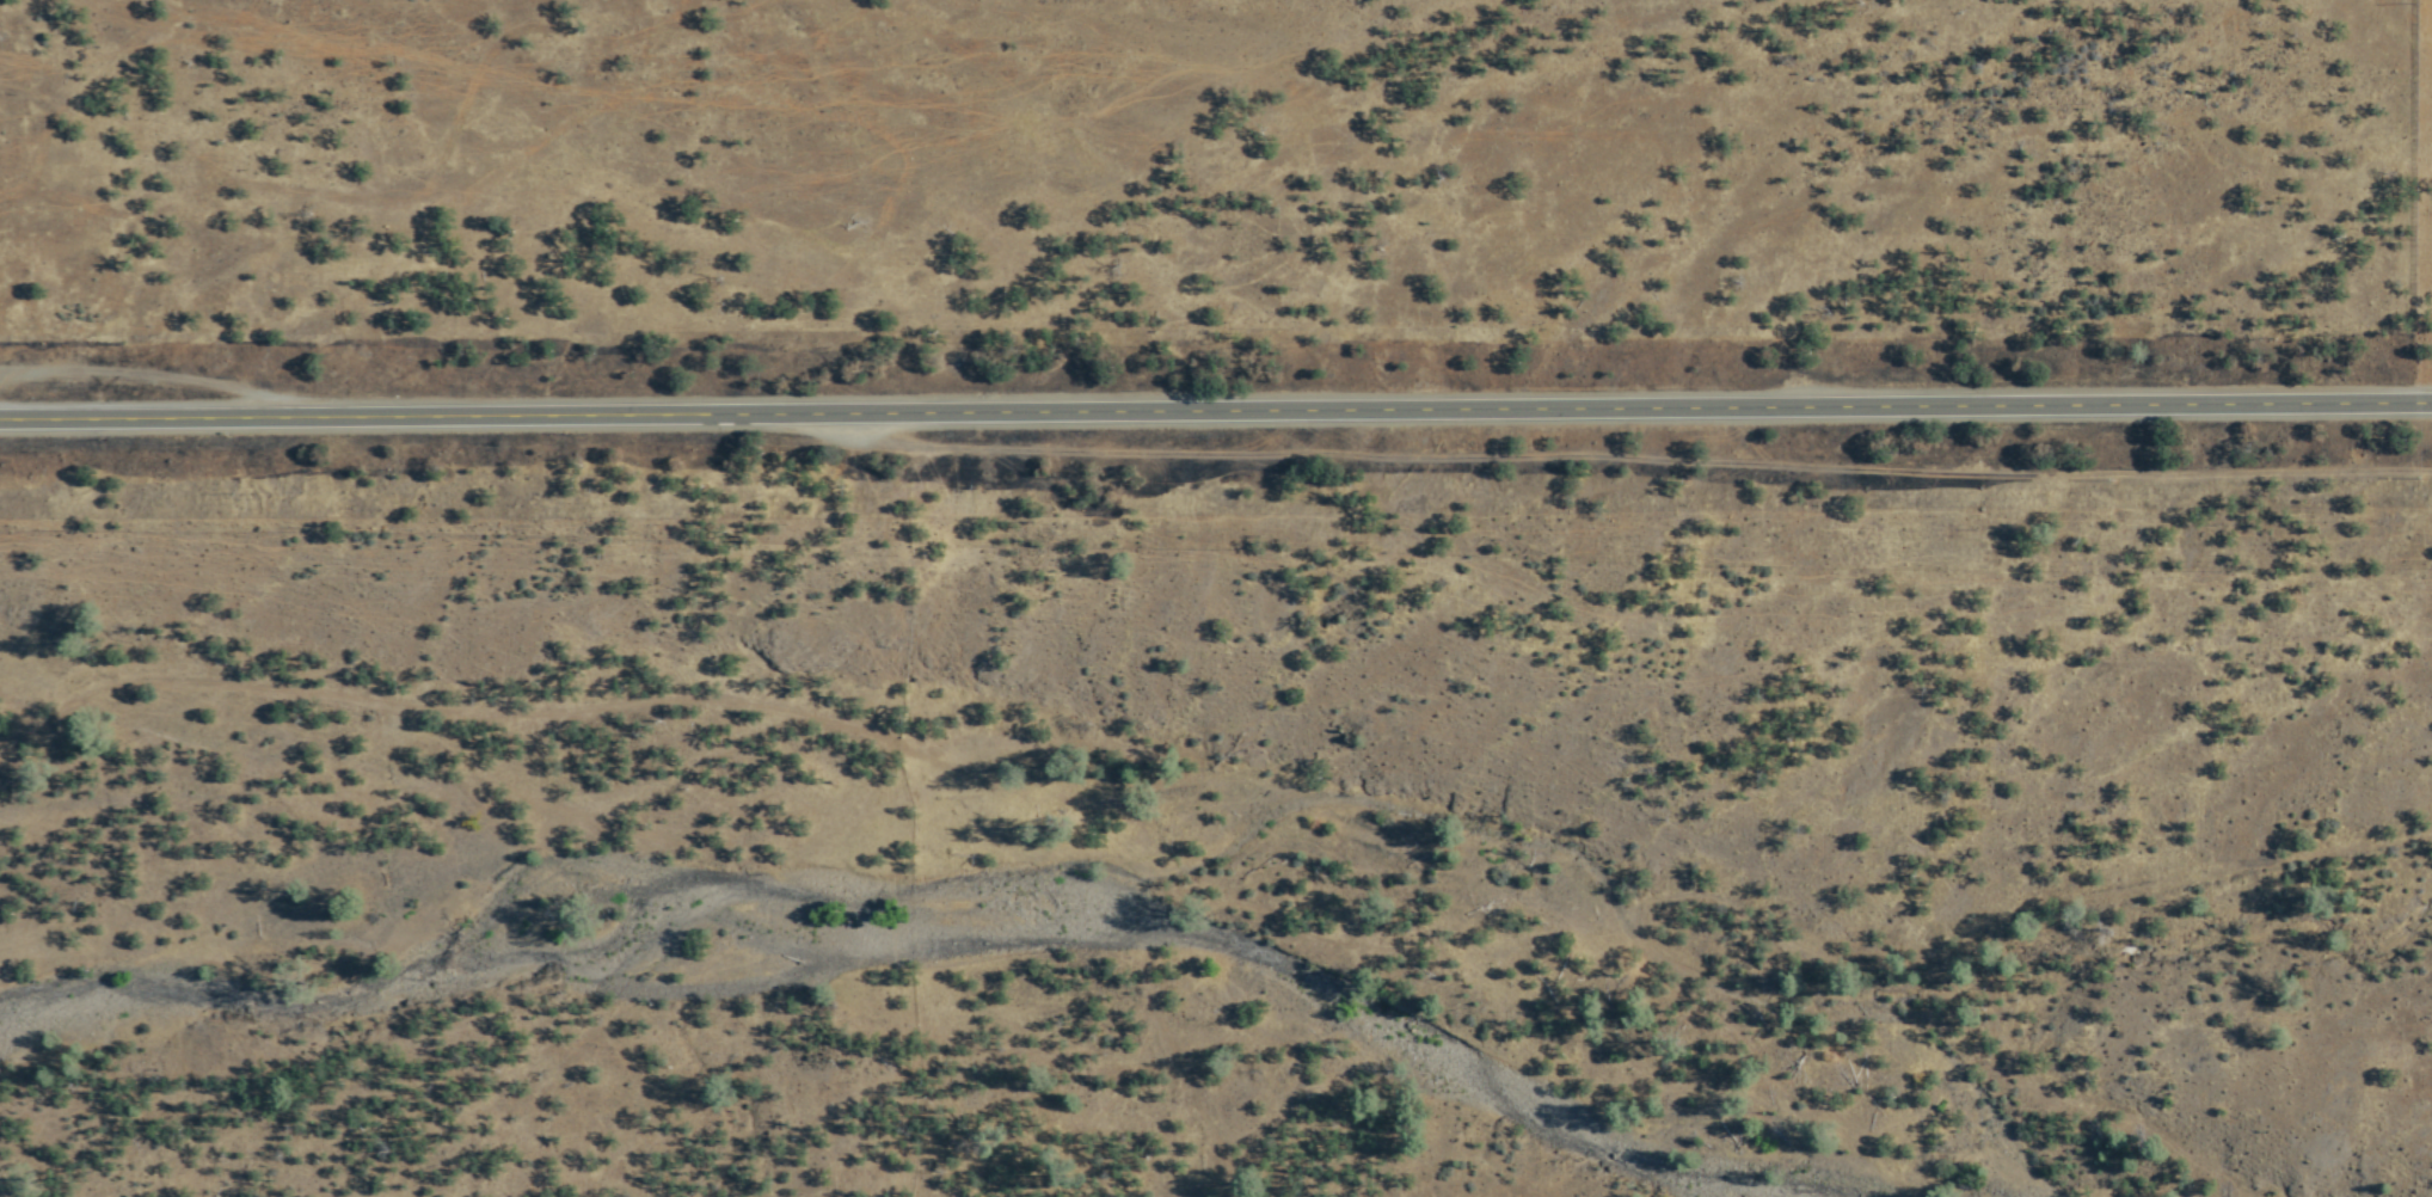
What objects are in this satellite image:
road: (1216, 410)
river: (553, 952)

